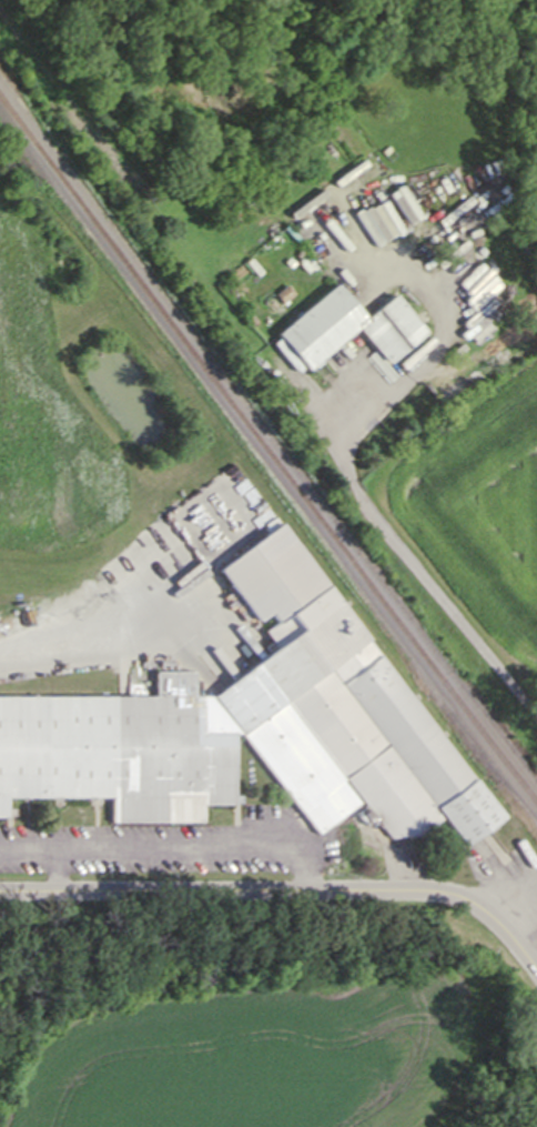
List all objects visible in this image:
building: (282, 295)
building: (348, 323)
railway: (268, 450)
crop: (470, 530)
road: (69, 645)
building: (253, 722)
road: (172, 848)
road: (61, 871)
road: (235, 892)
road: (506, 932)

